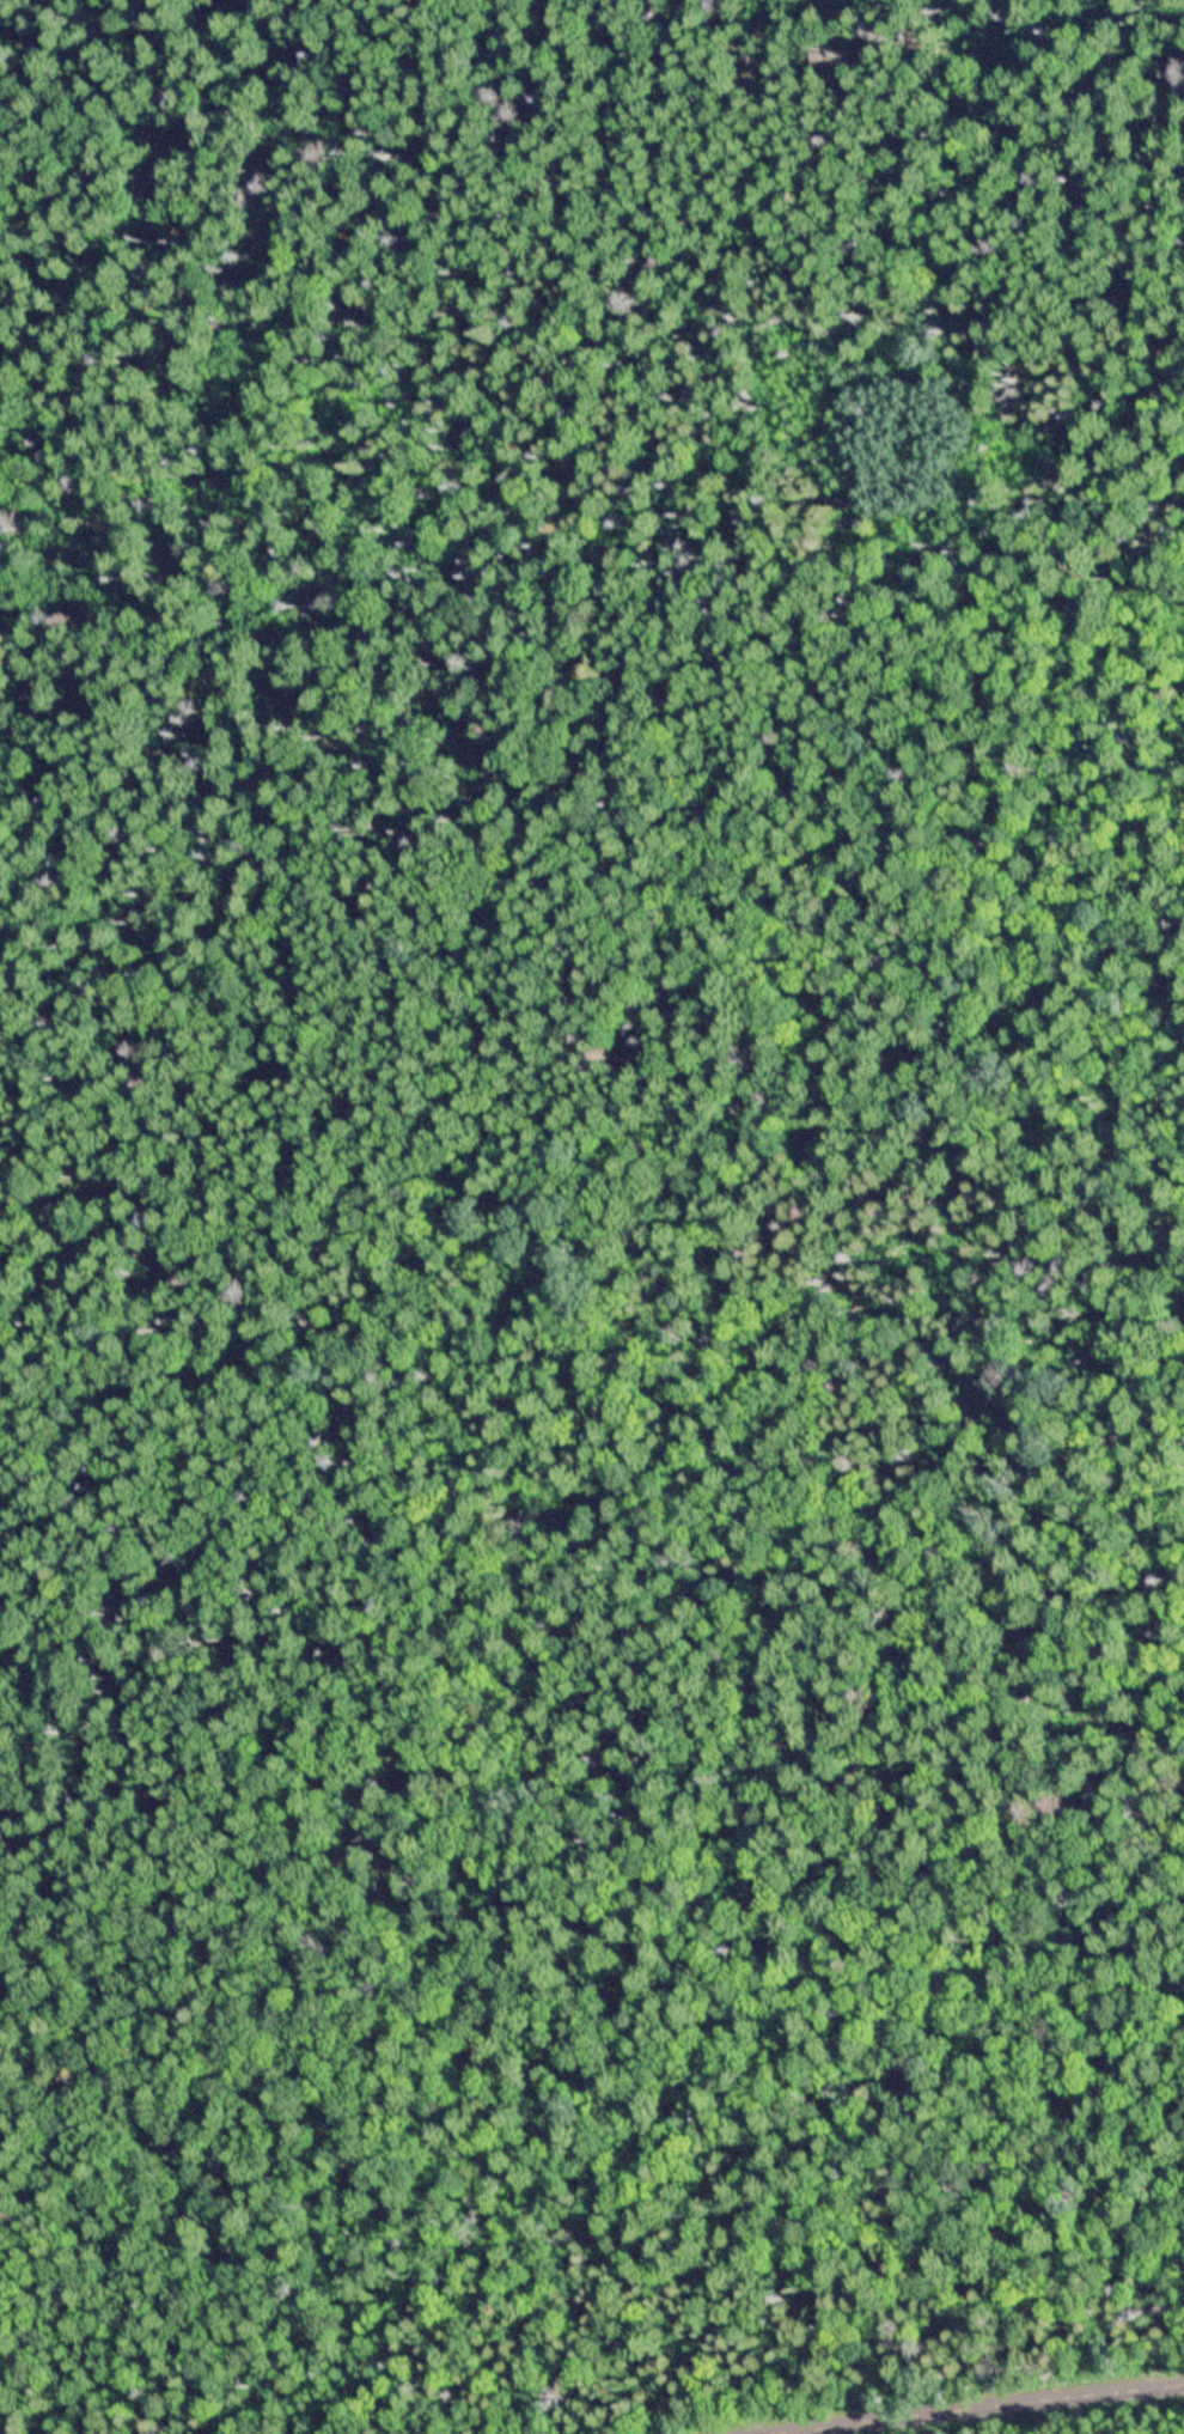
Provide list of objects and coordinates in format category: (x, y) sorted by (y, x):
road: (984, 2405)

